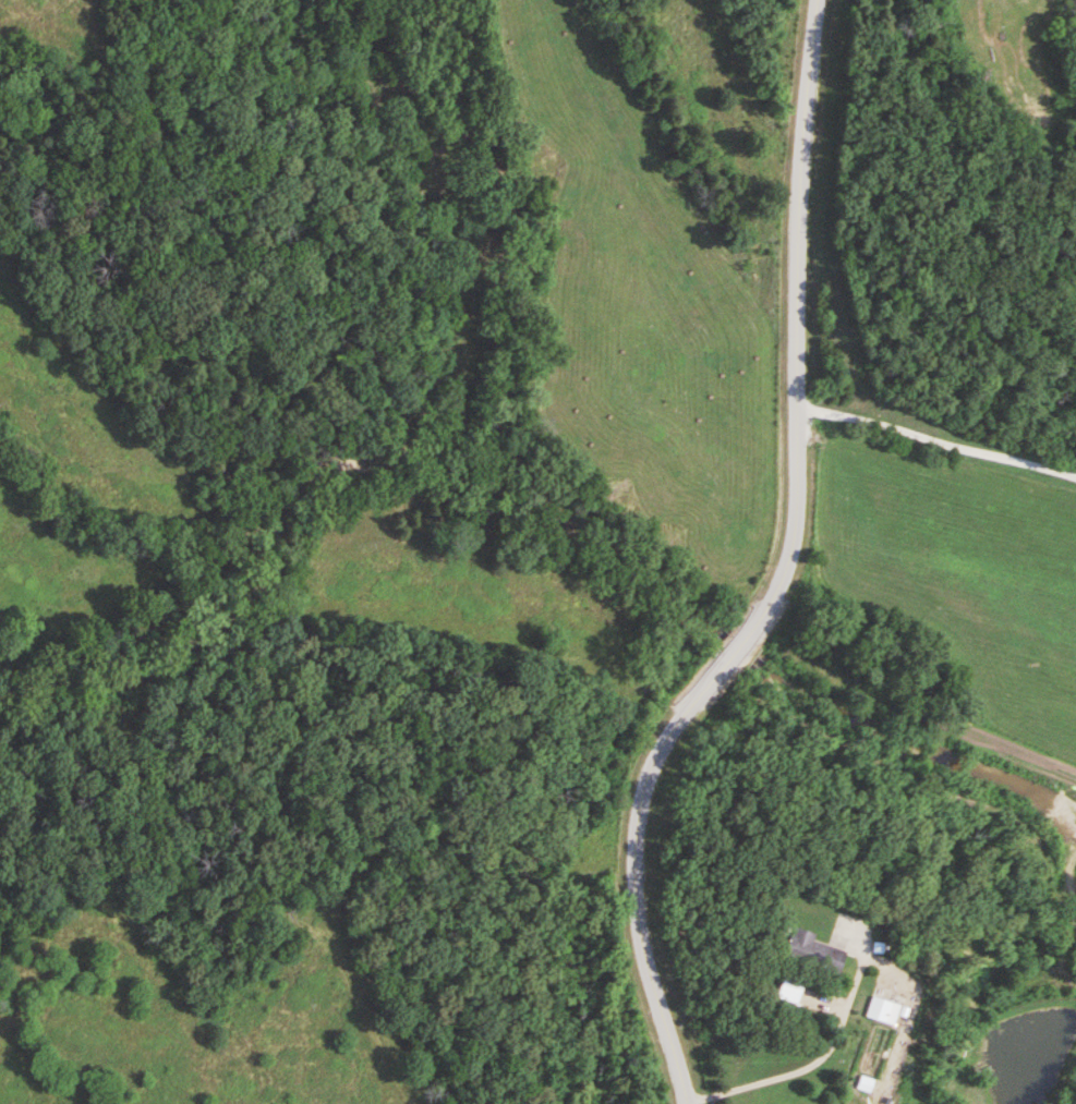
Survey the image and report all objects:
road: (942, 446)
road: (766, 572)
building: (813, 953)
building: (883, 1011)
road: (805, 1066)
building: (867, 1084)

